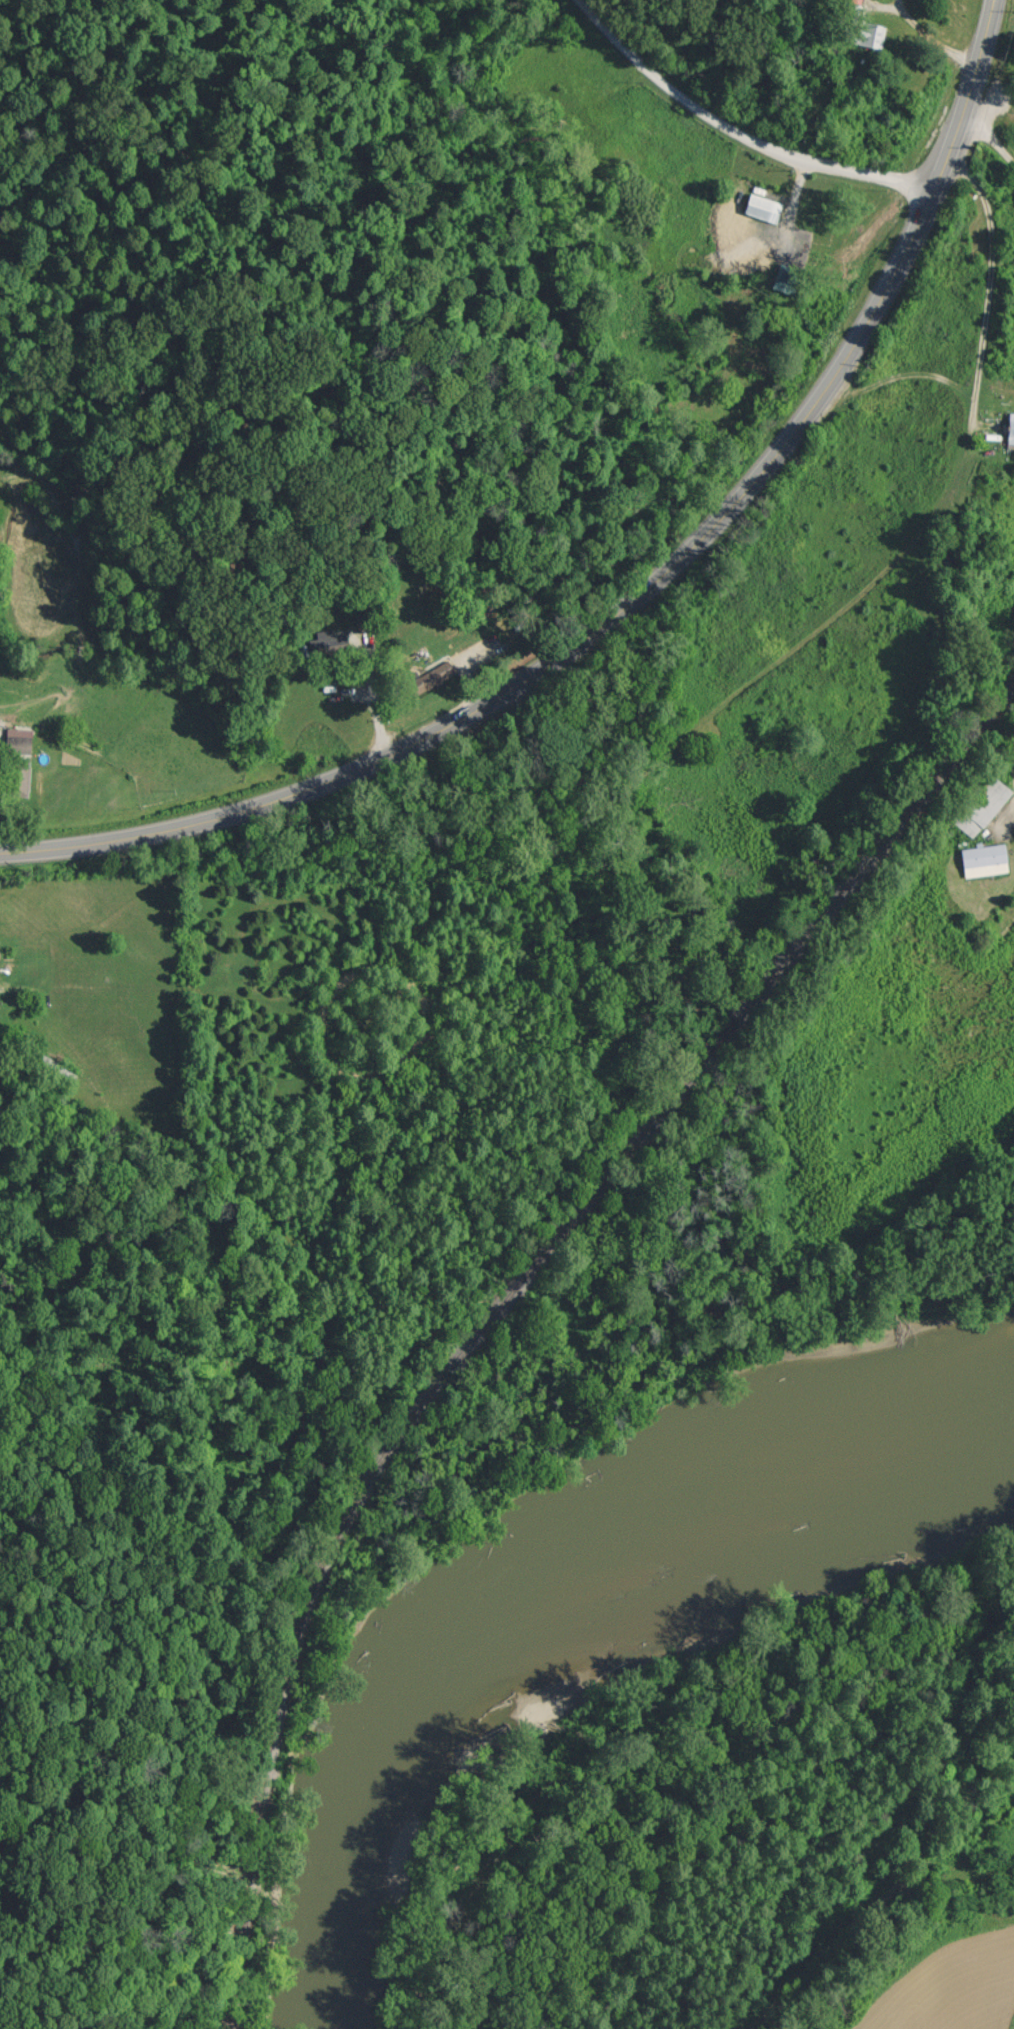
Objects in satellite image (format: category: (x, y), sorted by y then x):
building: (868, 34)
road: (736, 132)
road: (989, 136)
building: (762, 207)
road: (988, 282)
building: (1010, 430)
road: (641, 594)
building: (331, 641)
building: (430, 678)
building: (17, 740)
building: (20, 781)
building: (982, 806)
railway: (877, 851)
building: (984, 860)
railway: (725, 1035)
railway: (362, 1490)
river: (535, 1582)

